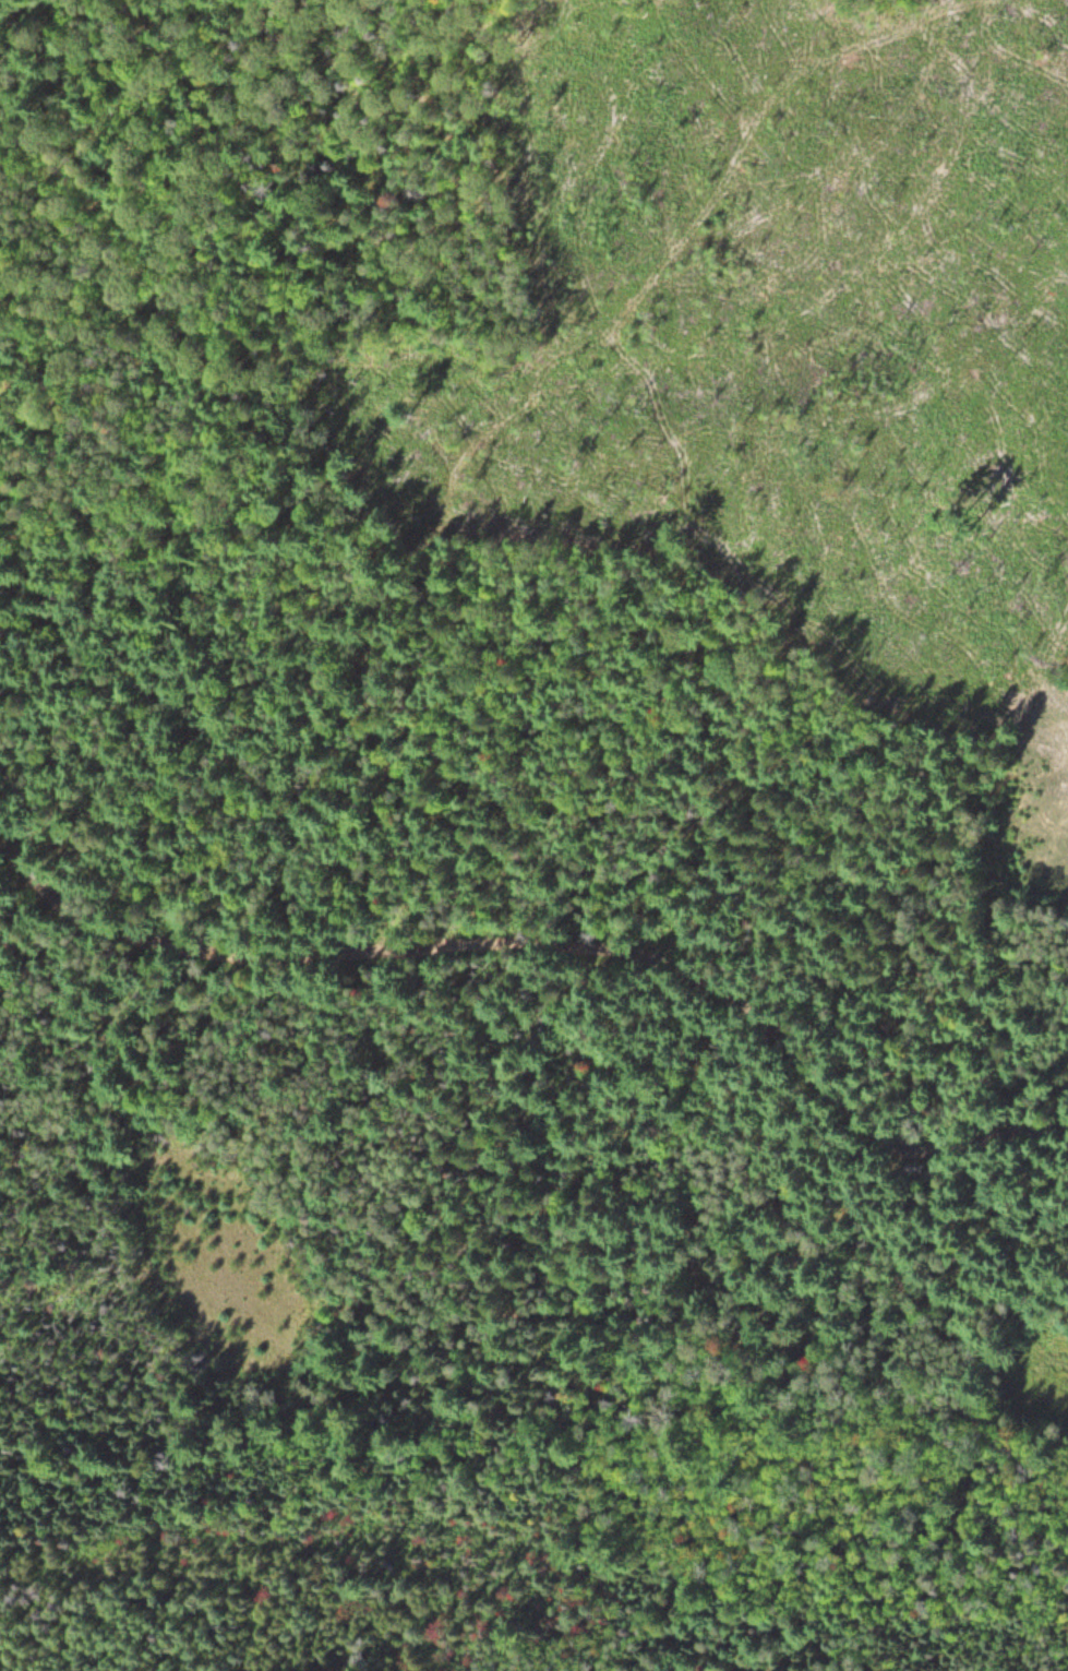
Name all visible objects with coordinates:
road: (551, 942)

